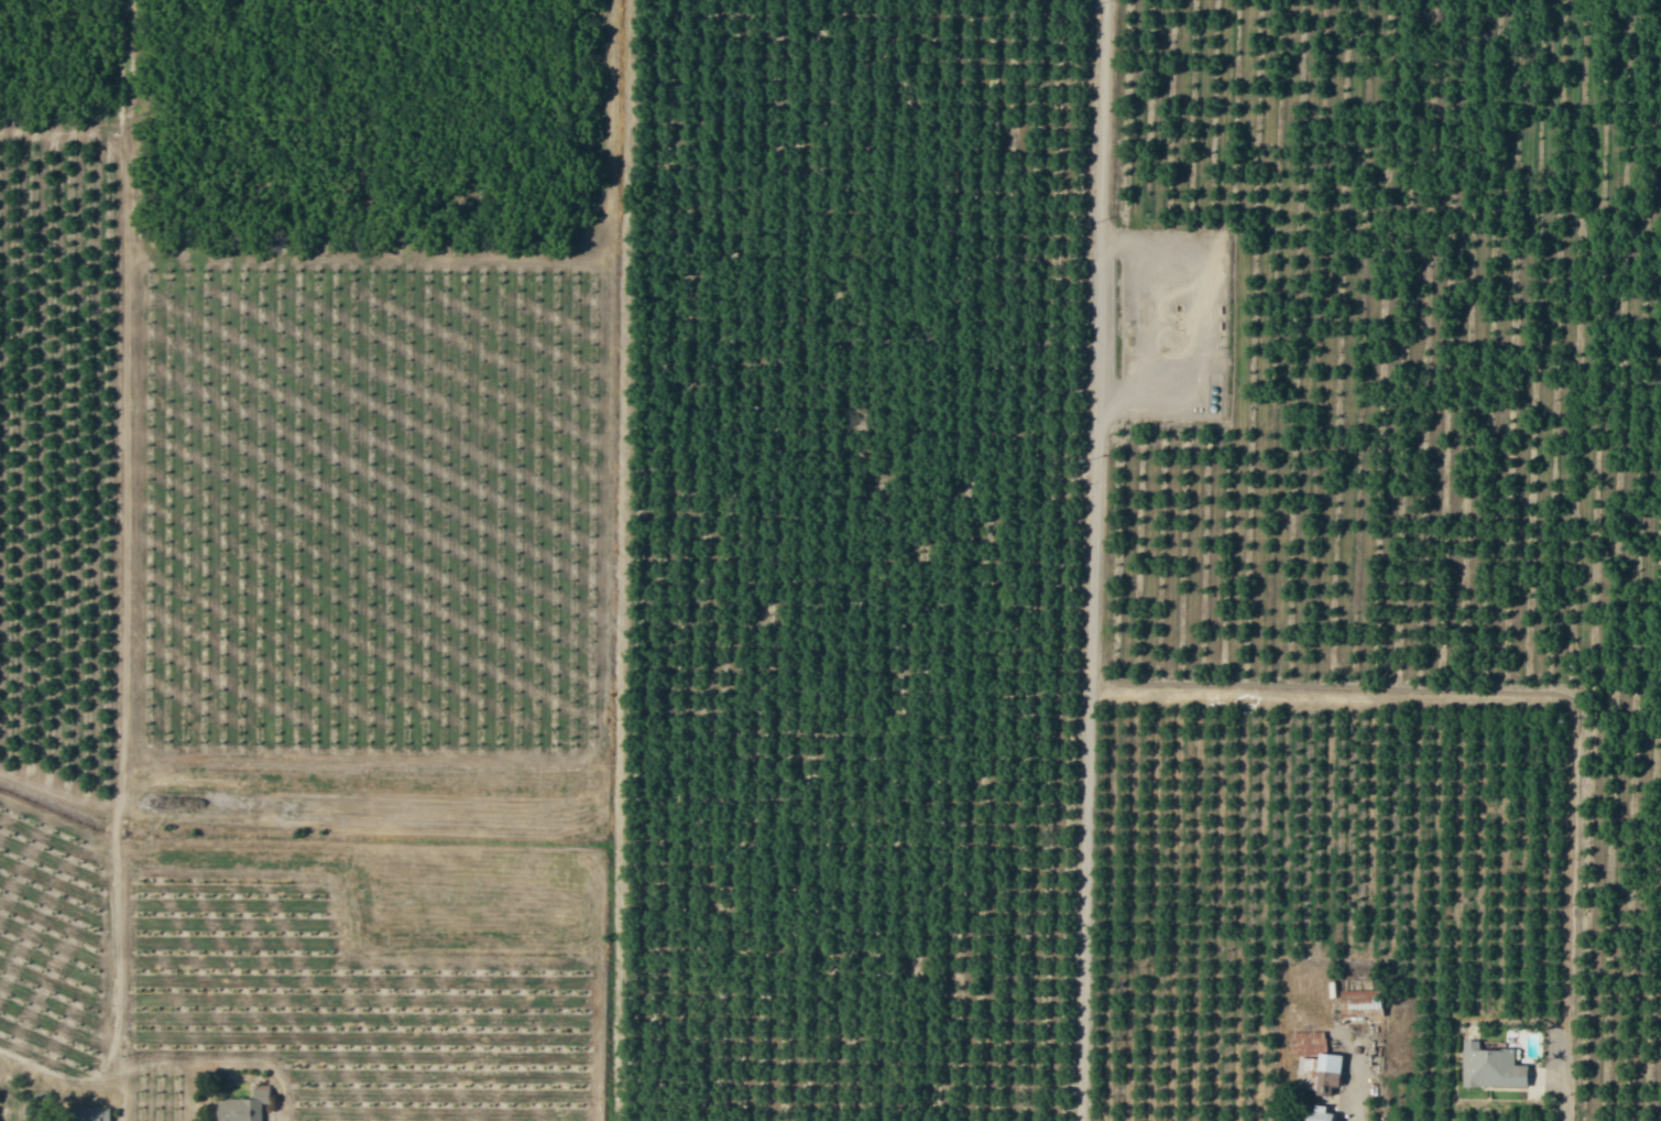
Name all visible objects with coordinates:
road: (1102, 560)
road: (1542, 698)
building: (1365, 1010)
building: (1495, 1066)
building: (245, 1109)
building: (99, 1114)

